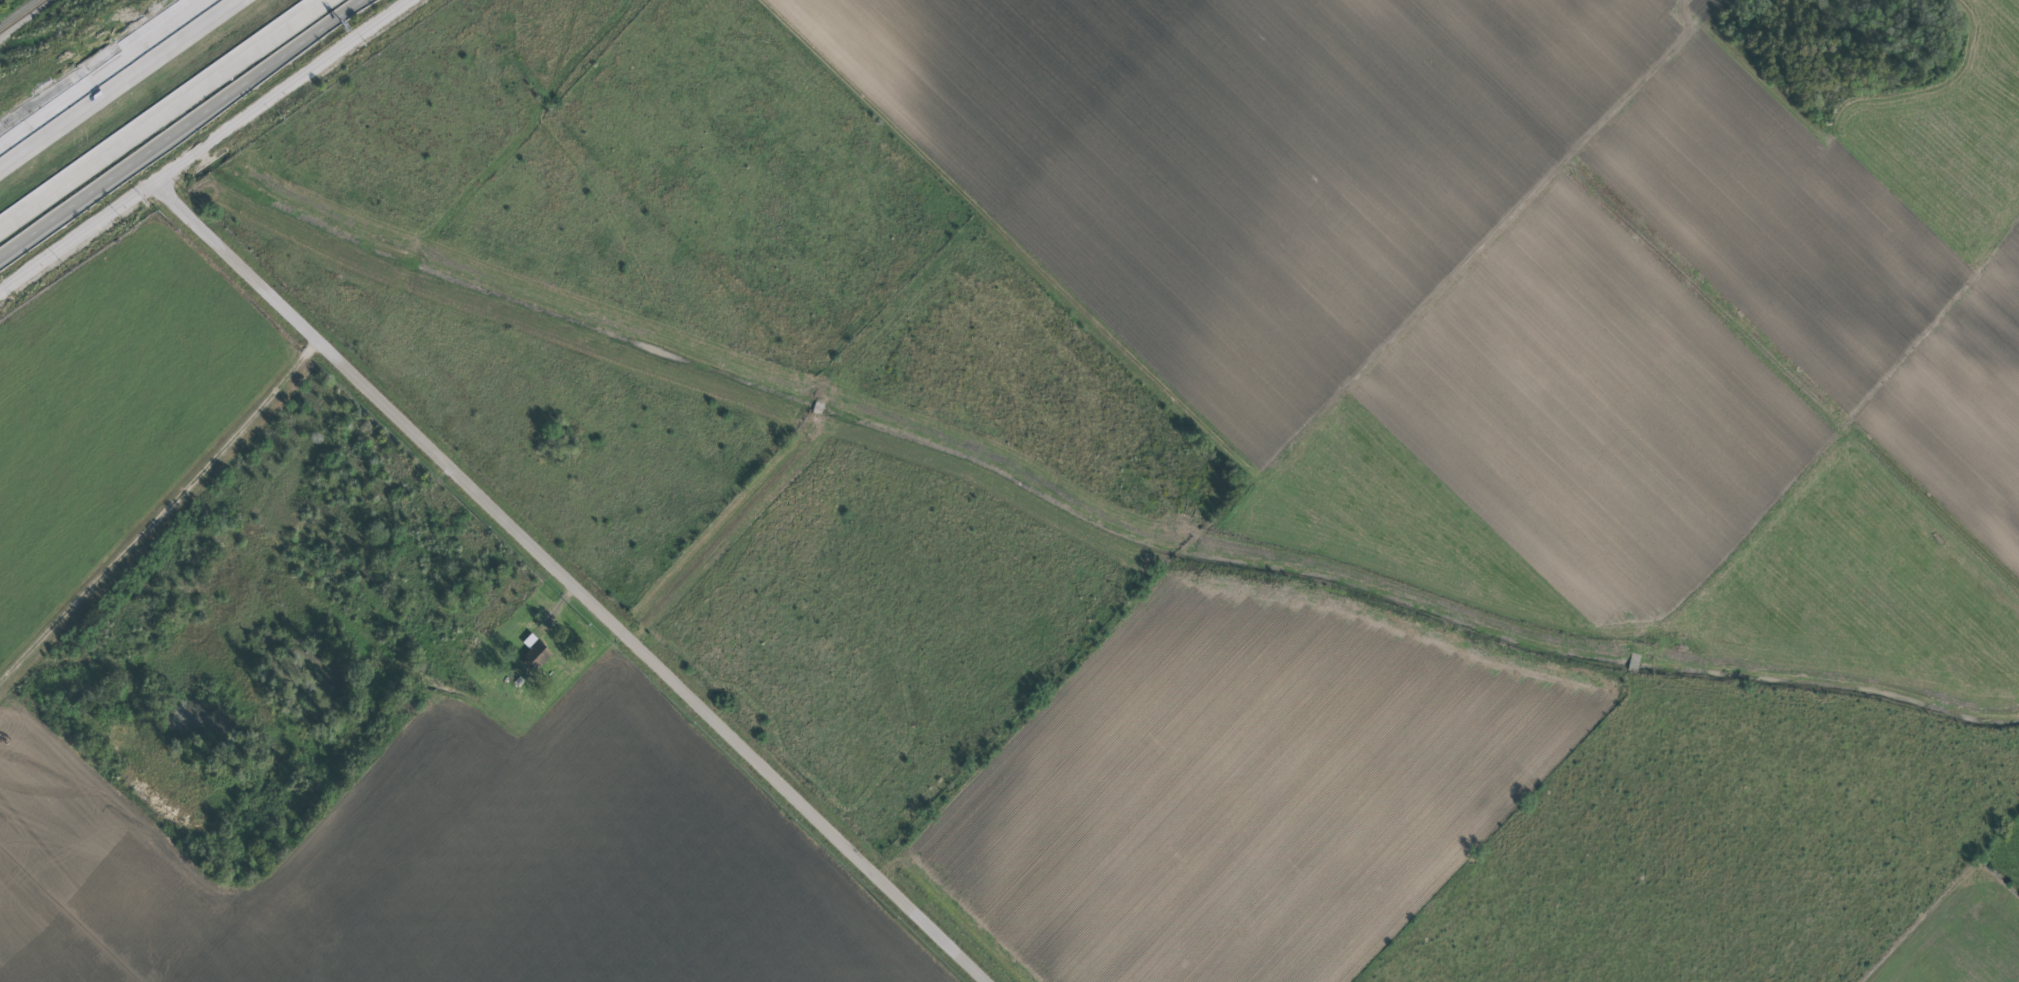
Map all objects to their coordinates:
railway: (21, 15)
road: (259, 42)
road: (104, 75)
road: (31, 121)
road: (206, 145)
road: (99, 155)
road: (572, 581)

